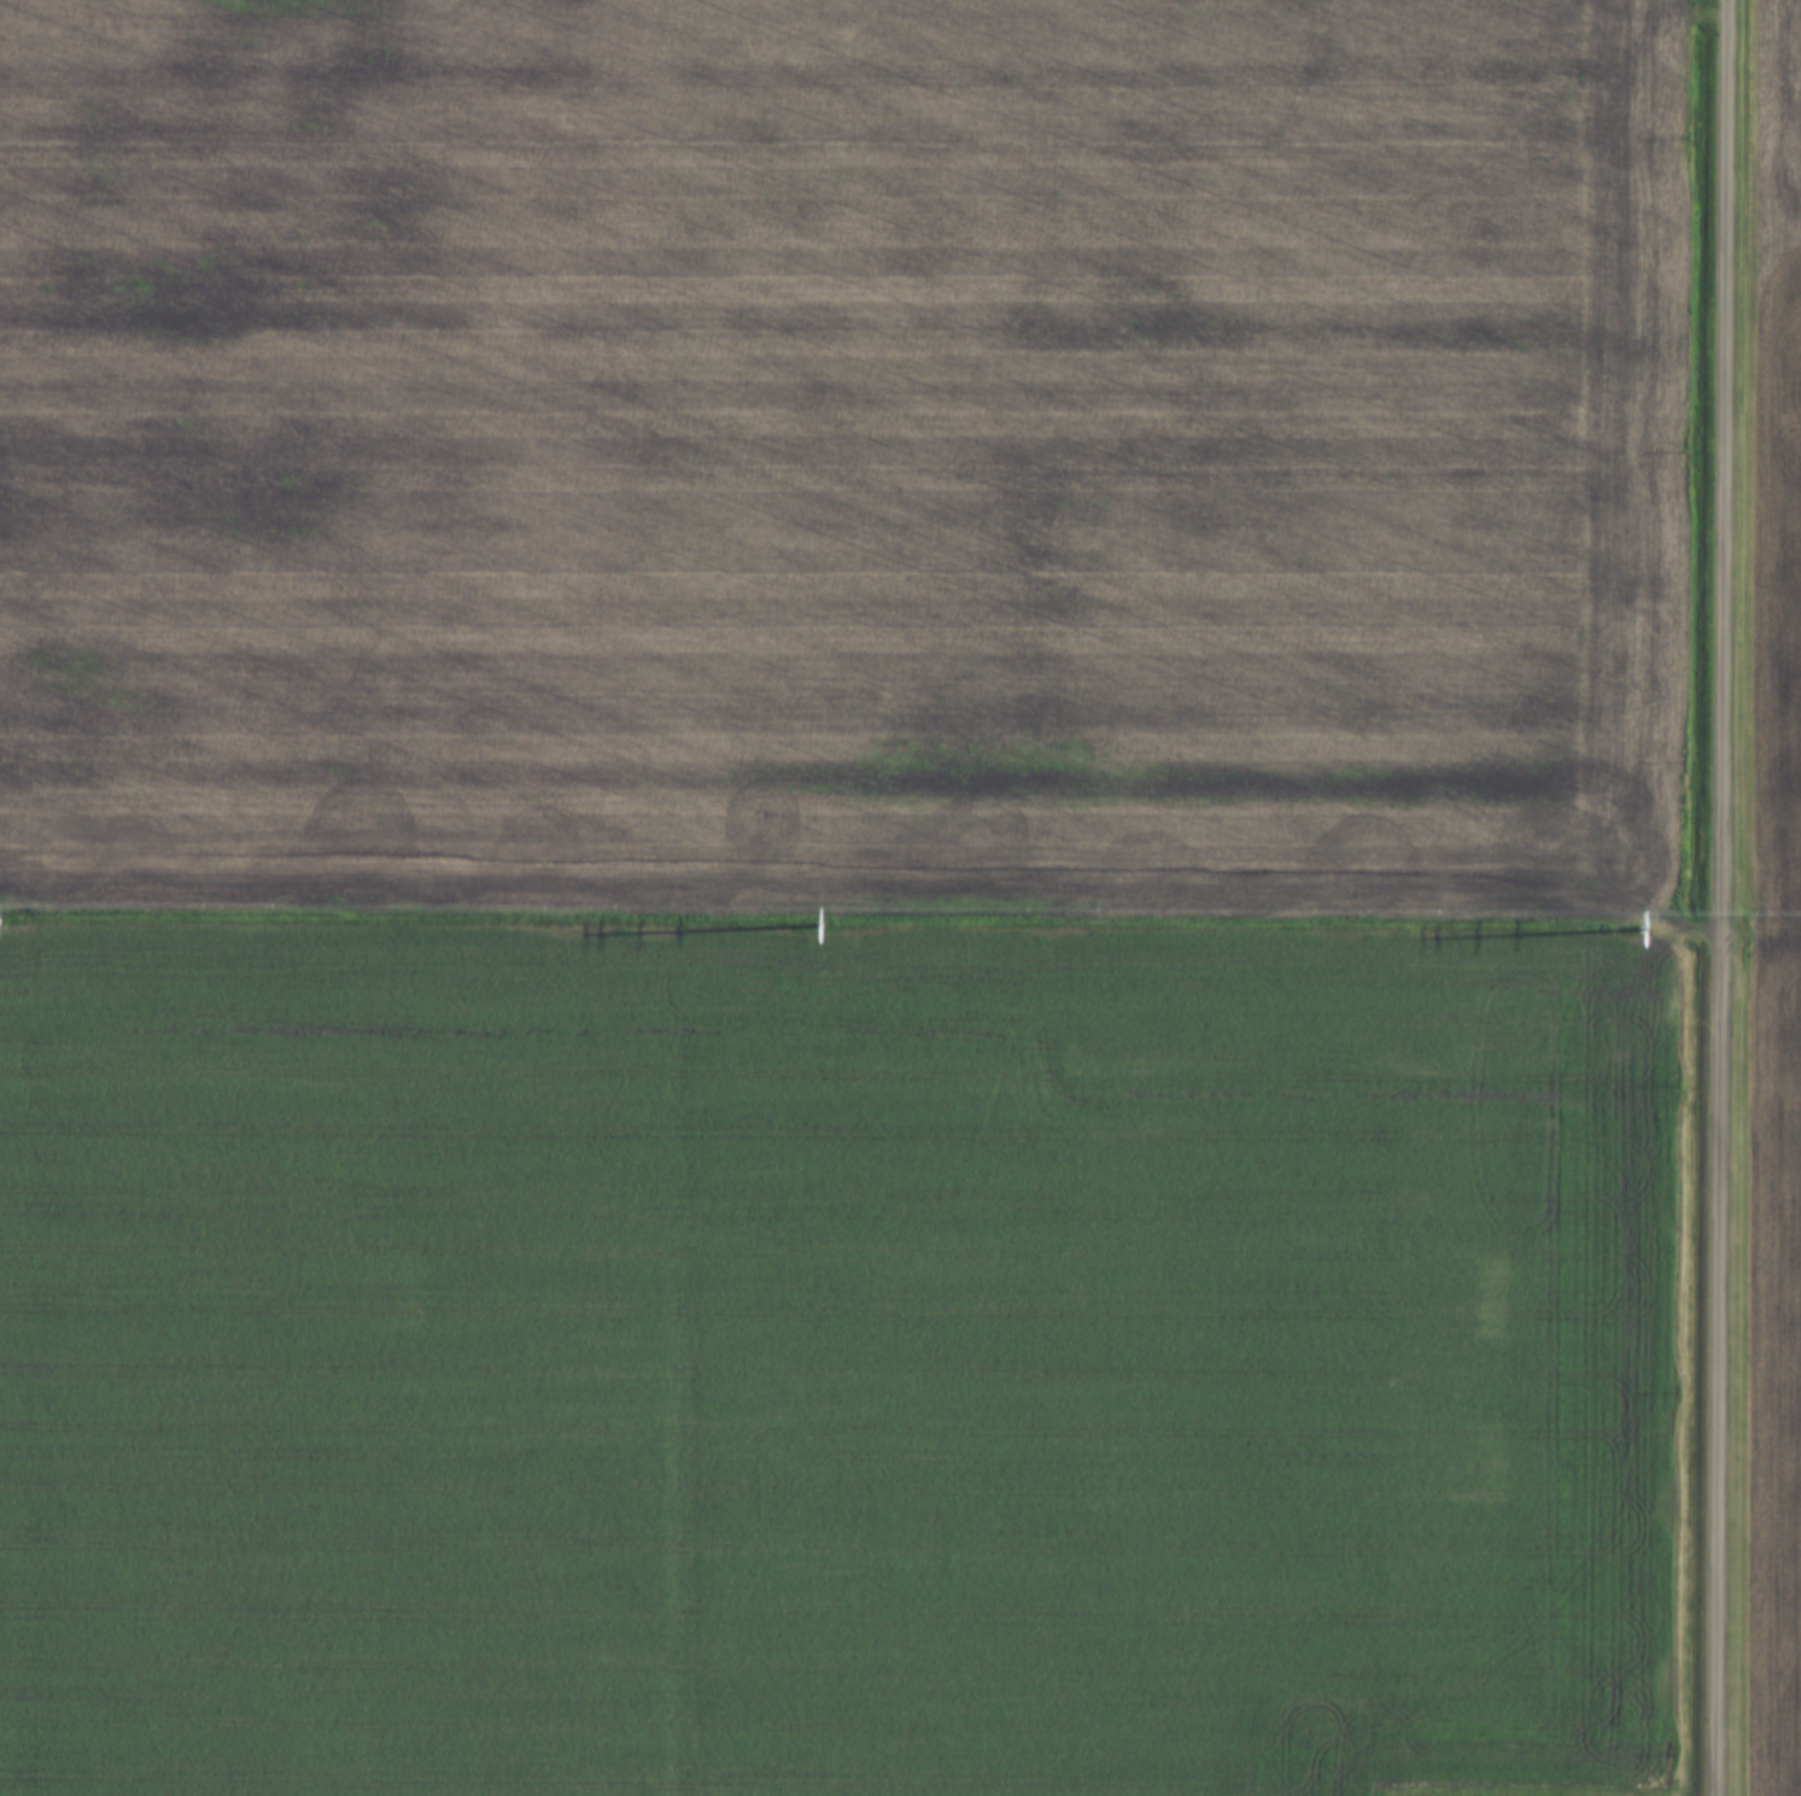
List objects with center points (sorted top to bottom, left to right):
road: (1723, 897)
power tower: (820, 929)
power tower: (1642, 931)

